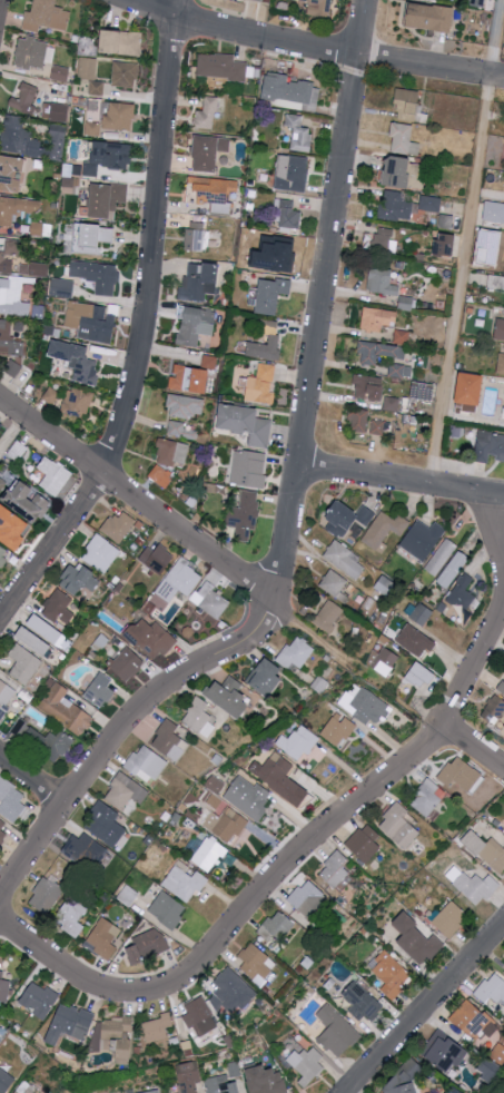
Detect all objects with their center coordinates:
building: (437, 0)
building: (480, 3)
building: (319, 8)
building: (47, 16)
building: (432, 18)
building: (122, 41)
road: (310, 46)
building: (32, 52)
building: (221, 66)
building: (88, 68)
building: (126, 73)
building: (97, 87)
building: (290, 88)
building: (23, 97)
building: (407, 105)
building: (56, 110)
building: (207, 114)
building: (119, 116)
building: (92, 128)
building: (299, 132)
building: (20, 137)
building: (404, 138)
building: (210, 151)
building: (13, 170)
building: (398, 170)
building: (293, 171)
building: (214, 193)
building: (108, 198)
building: (431, 203)
building: (395, 206)
building: (17, 207)
building: (494, 210)
building: (289, 214)
building: (92, 236)
building: (196, 236)
road: (154, 240)
building: (384, 240)
road: (464, 242)
building: (446, 244)
building: (8, 254)
building: (283, 254)
building: (34, 268)
building: (98, 275)
building: (199, 280)
building: (382, 280)
building: (61, 287)
building: (270, 294)
building: (11, 302)
building: (378, 318)
building: (90, 321)
building: (196, 325)
building: (500, 328)
building: (405, 336)
building: (9, 339)
building: (265, 347)
building: (377, 351)
building: (78, 360)
building: (209, 362)
building: (501, 364)
building: (12, 367)
building: (401, 370)
building: (191, 377)
building: (260, 384)
building: (472, 387)
building: (423, 388)
building: (374, 390)
building: (51, 394)
building: (78, 402)
building: (187, 405)
building: (359, 420)
building: (247, 422)
building: (1, 423)
building: (177, 427)
building: (381, 427)
road: (13, 439)
building: (490, 443)
building: (174, 452)
building: (249, 467)
building: (55, 474)
building: (161, 475)
road: (399, 480)
building: (2, 483)
building: (28, 500)
road: (136, 500)
road: (290, 503)
building: (246, 514)
building: (347, 518)
building: (119, 525)
building: (12, 526)
building: (384, 529)
road: (494, 529)
building: (423, 539)
road: (51, 546)
building: (101, 553)
building: (3, 557)
building: (441, 557)
building: (158, 558)
building: (345, 559)
building: (453, 569)
building: (79, 579)
building: (180, 580)
building: (335, 584)
building: (386, 585)
building: (463, 599)
building: (211, 600)
building: (59, 607)
building: (419, 612)
building: (329, 616)
building: (47, 628)
building: (151, 638)
building: (36, 640)
building: (416, 640)
building: (295, 654)
building: (384, 661)
building: (127, 662)
building: (24, 663)
road: (356, 663)
building: (268, 676)
building: (501, 686)
building: (100, 690)
building: (231, 696)
building: (6, 697)
building: (364, 705)
building: (66, 708)
building: (200, 716)
building: (338, 729)
building: (170, 740)
building: (297, 744)
road: (472, 750)
building: (147, 764)
building: (462, 774)
building: (280, 777)
road: (31, 780)
building: (216, 784)
building: (126, 791)
building: (248, 797)
building: (426, 798)
building: (12, 799)
building: (107, 824)
building: (226, 824)
building: (401, 826)
building: (2, 831)
building: (365, 844)
building: (486, 849)
building: (85, 850)
building: (207, 854)
building: (335, 869)
road: (278, 875)
building: (184, 882)
building: (473, 884)
building: (46, 895)
building: (309, 898)
building: (167, 909)
building: (71, 916)
building: (451, 918)
building: (276, 926)
building: (105, 937)
building: (417, 938)
building: (149, 945)
building: (257, 964)
building: (391, 973)
building: (492, 988)
building: (4, 989)
building: (231, 992)
building: (40, 998)
road: (424, 1008)
building: (199, 1016)
building: (471, 1018)
building: (70, 1023)
building: (158, 1027)
building: (336, 1031)
building: (490, 1036)
building: (115, 1037)
building: (445, 1051)
building: (493, 1063)
building: (307, 1064)
building: (189, 1076)
building: (407, 1077)
building: (267, 1080)
building: (6, 1081)
building: (225, 1081)
building: (24, 1087)
building: (148, 1092)
building: (455, 1092)

